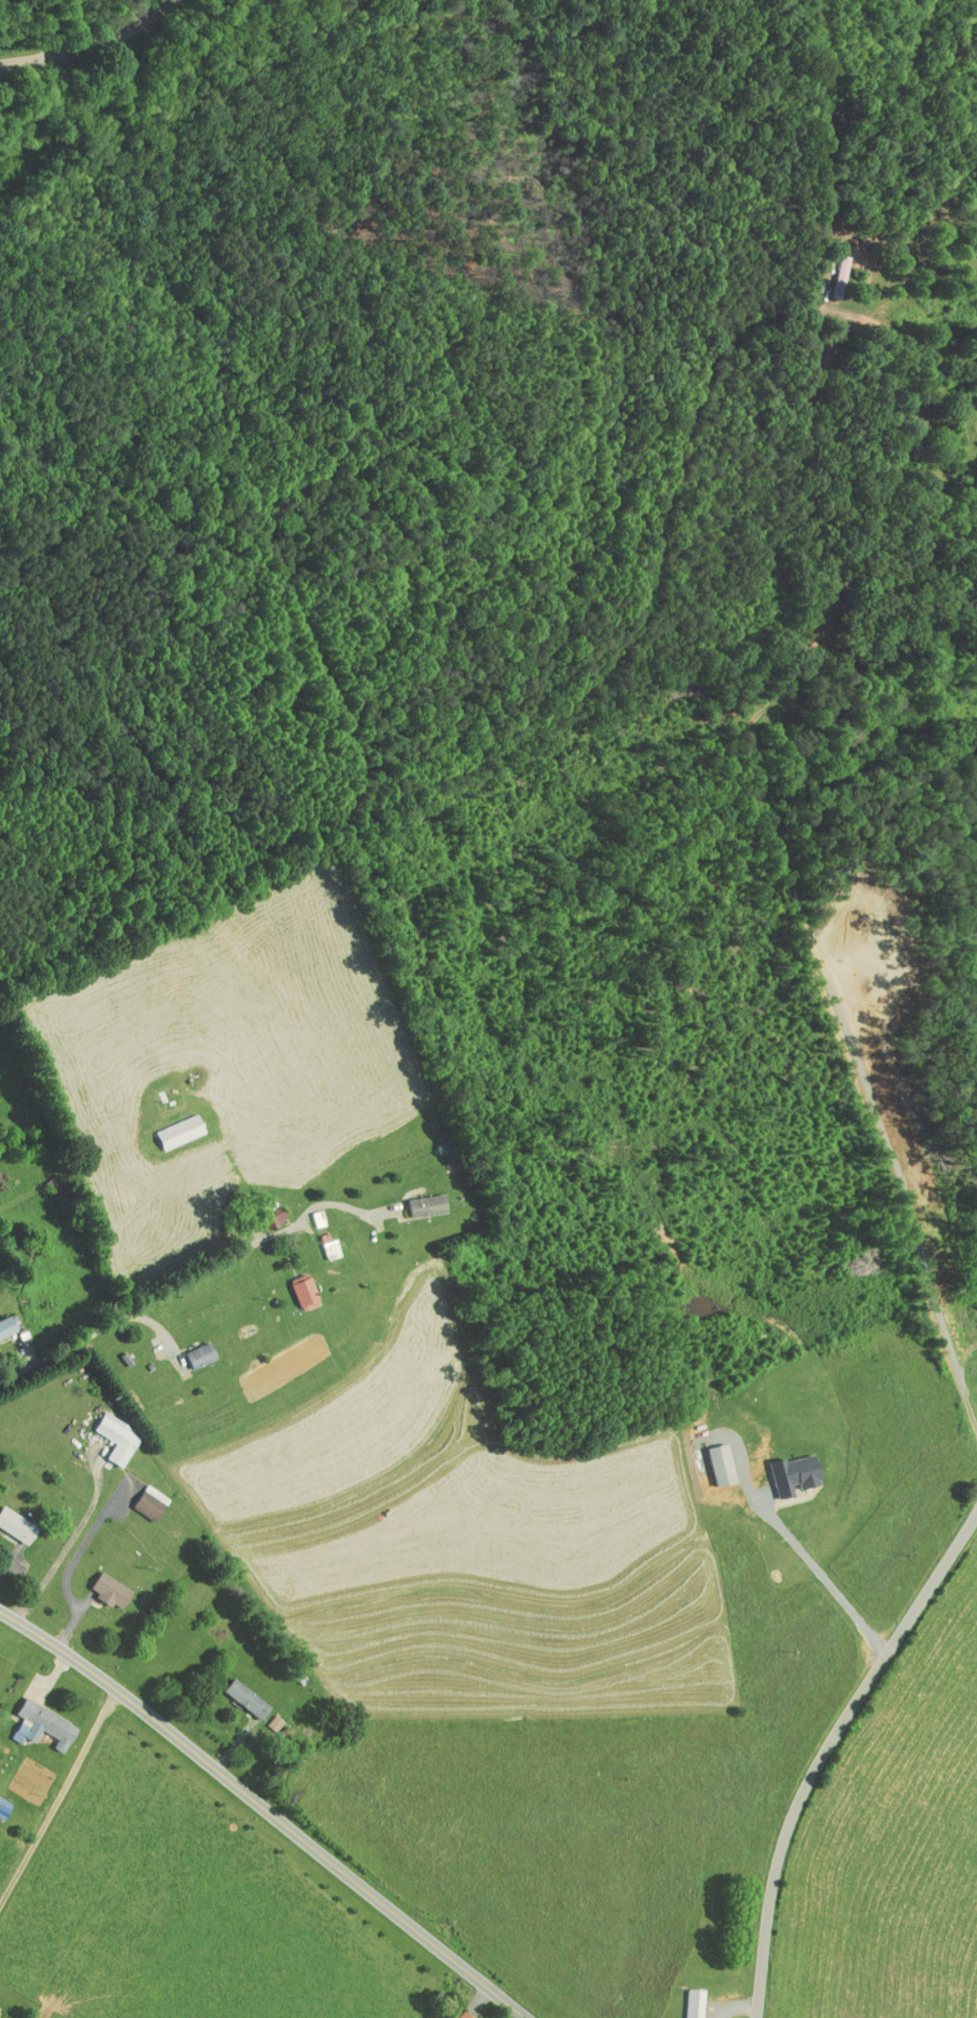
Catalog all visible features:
road: (52, 19)
road: (93, 46)
building: (829, 262)
road: (915, 343)
building: (171, 1125)
building: (418, 1199)
road: (311, 1208)
building: (268, 1209)
building: (322, 1242)
building: (296, 1285)
road: (118, 1315)
building: (3, 1319)
building: (191, 1349)
building: (109, 1432)
building: (713, 1458)
building: (786, 1468)
building: (141, 1496)
building: (11, 1521)
road: (822, 1574)
building: (101, 1583)
building: (238, 1692)
building: (265, 1716)
building: (35, 1719)
road: (827, 1752)
road: (58, 1804)
road: (262, 1812)
building: (686, 1999)
building: (456, 2012)
building: (472, 2017)

